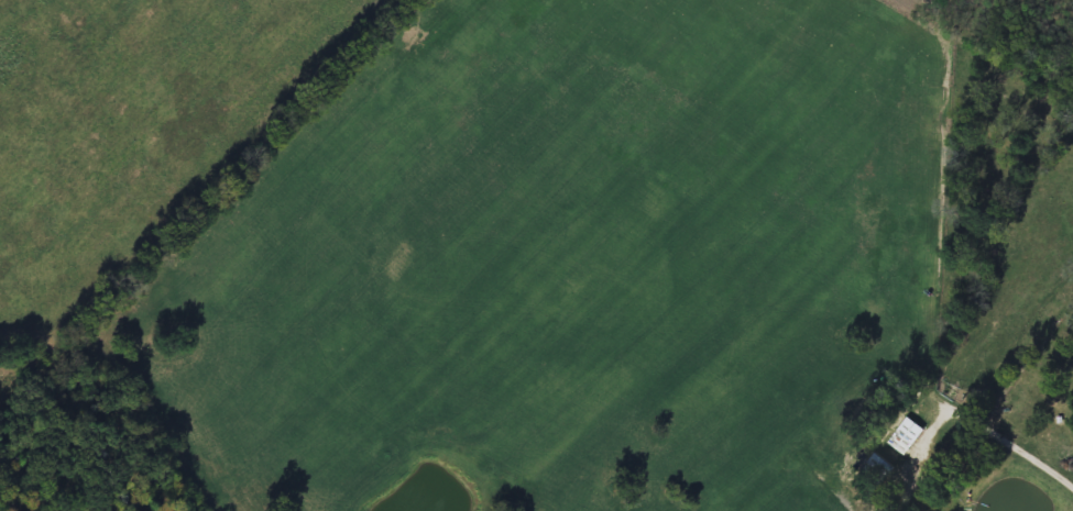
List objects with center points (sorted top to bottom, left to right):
building: (905, 434)
road: (1022, 449)

